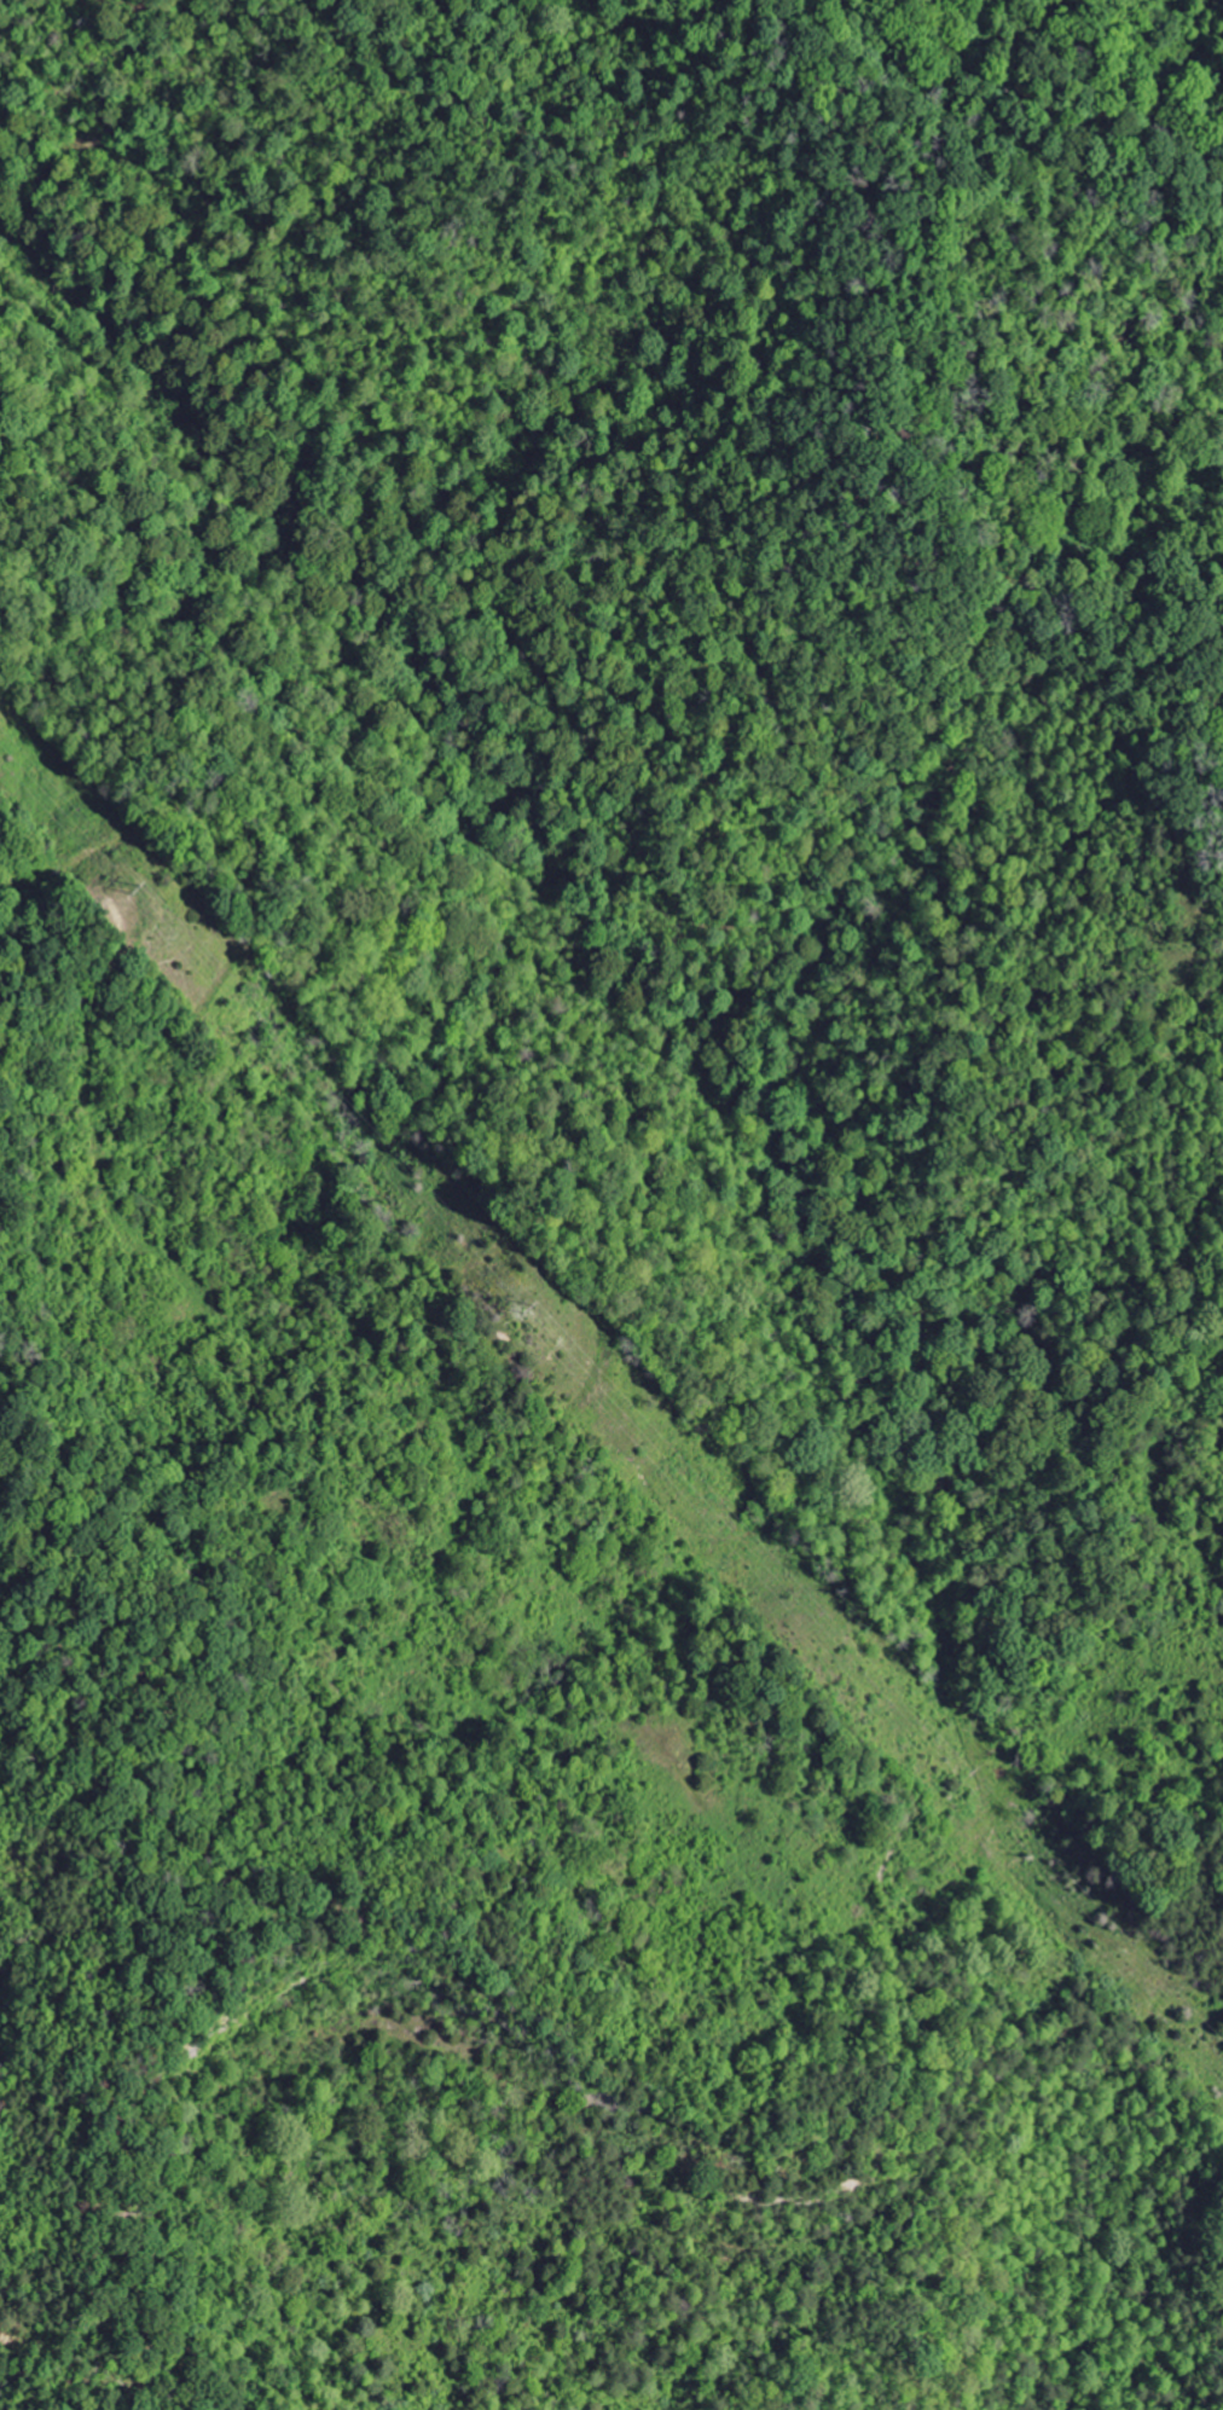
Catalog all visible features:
power tower: (156, 893)
power tower: (561, 1314)

